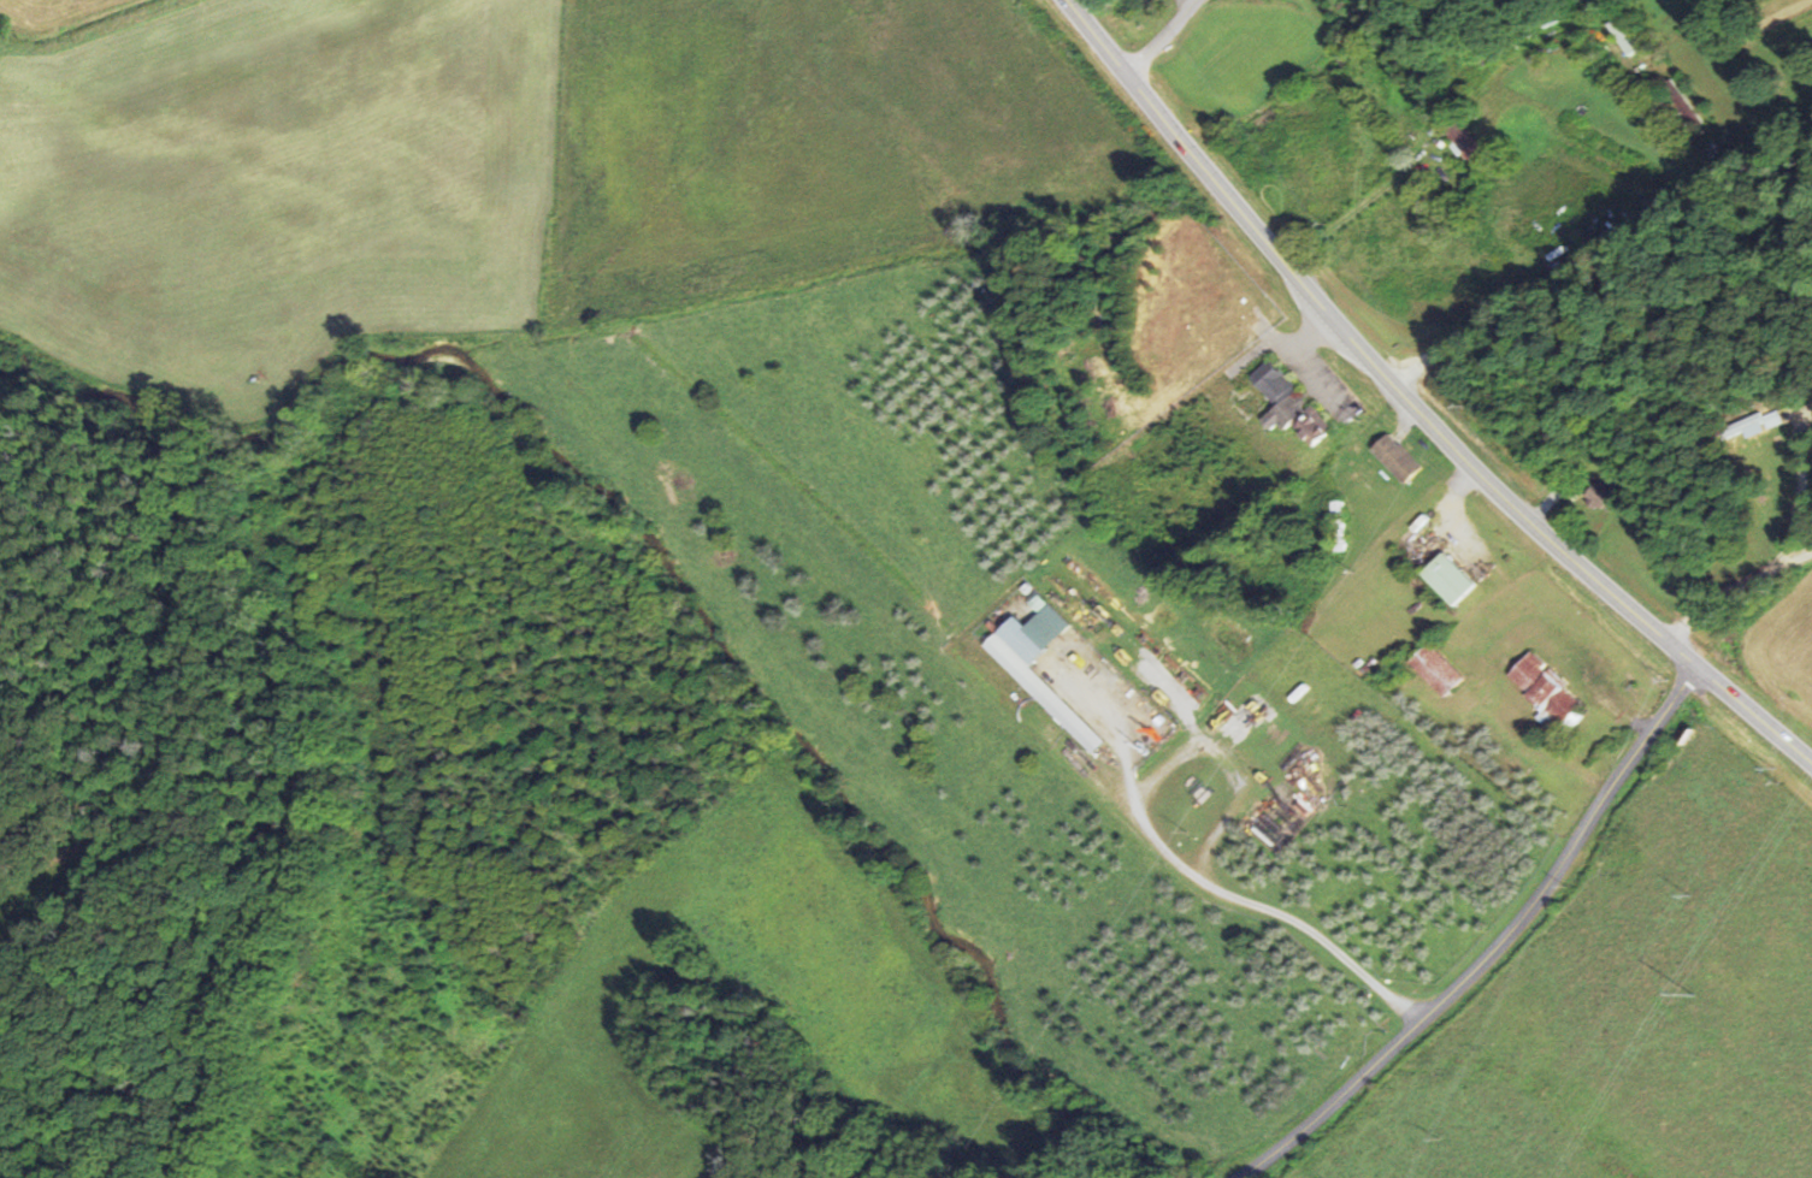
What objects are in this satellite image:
road: (1163, 39)
building: (1462, 140)
road: (1348, 217)
road: (1598, 245)
building: (1287, 406)
road: (1416, 407)
building: (1755, 424)
building: (1395, 458)
building: (1598, 495)
building: (1445, 579)
road: (1737, 593)
building: (1434, 668)
building: (1541, 688)
building: (1052, 702)
road: (1199, 877)
road: (1507, 949)
power tower: (1693, 996)

